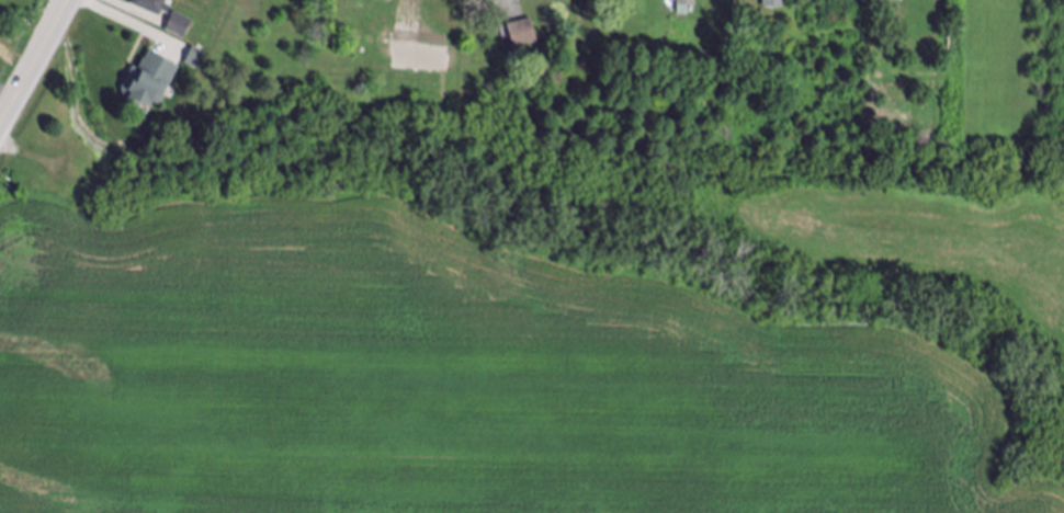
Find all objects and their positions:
building: (894, 1)
building: (688, 2)
building: (776, 4)
building: (154, 7)
road: (115, 20)
building: (180, 26)
building: (523, 35)
building: (194, 59)
road: (36, 67)
building: (383, 68)
building: (149, 81)
road: (10, 96)
crop: (532, 344)

